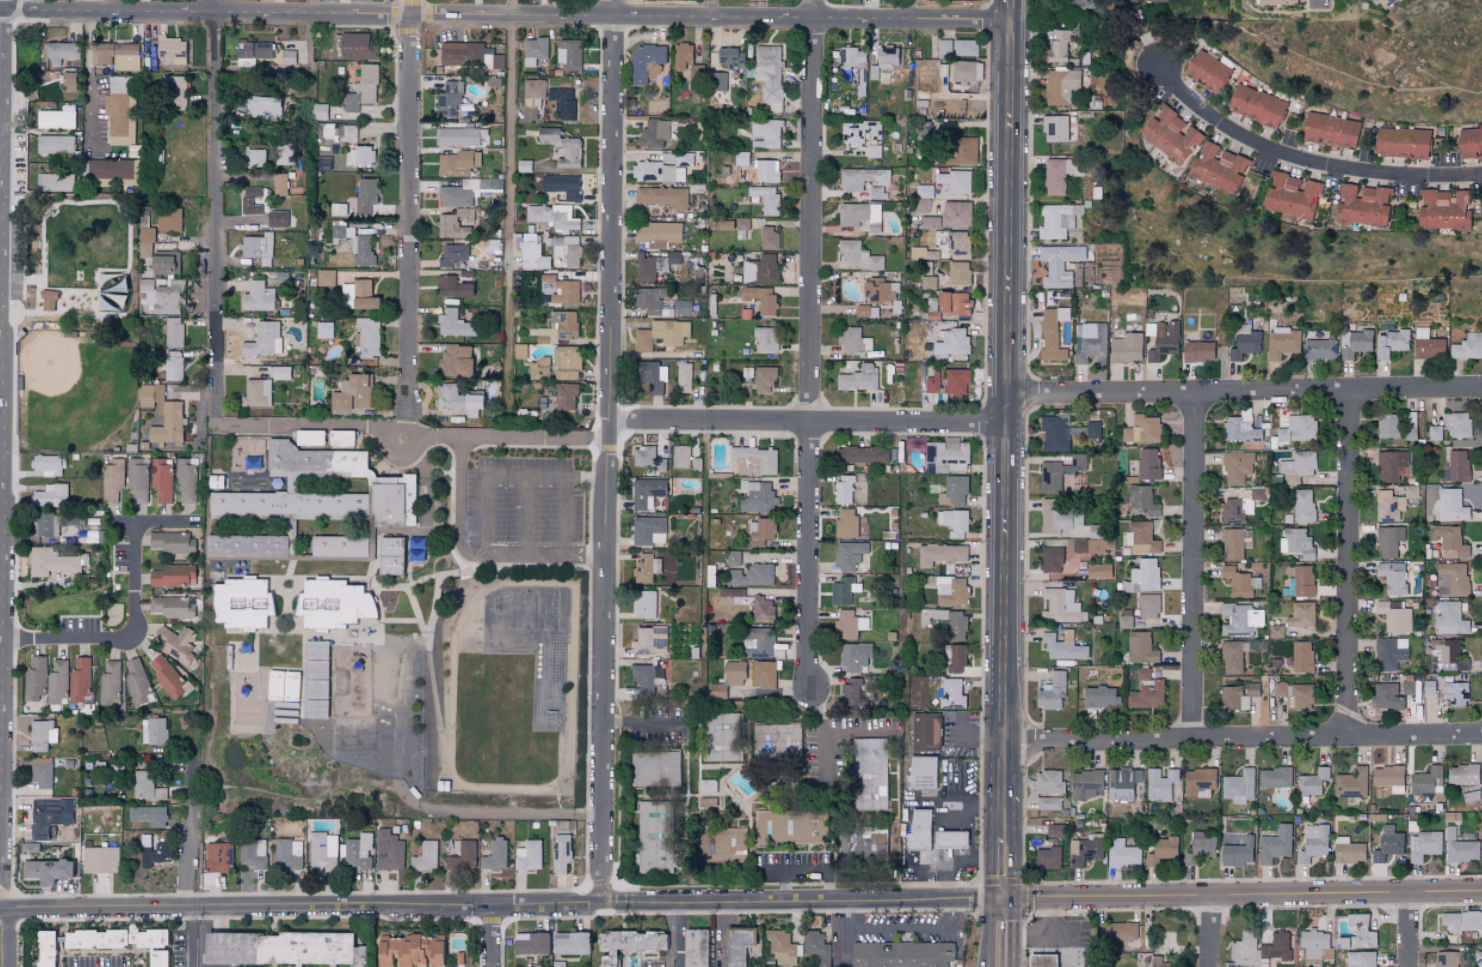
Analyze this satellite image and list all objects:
building: (1154, 0)
building: (1274, 1)
road: (1319, 2)
building: (1377, 2)
building: (1316, 4)
road: (13, 7)
road: (111, 7)
road: (312, 7)
road: (714, 7)
road: (910, 8)
road: (506, 14)
building: (944, 46)
building: (356, 47)
building: (965, 47)
building: (1059, 47)
building: (252, 50)
building: (534, 50)
building: (168, 51)
building: (61, 52)
building: (461, 53)
building: (116, 55)
building: (569, 55)
building: (683, 55)
building: (887, 55)
building: (288, 57)
building: (730, 58)
building: (851, 58)
building: (497, 61)
building: (645, 63)
building: (768, 71)
building: (1207, 71)
building: (967, 73)
building: (876, 74)
building: (718, 81)
road: (90, 84)
building: (118, 85)
building: (1061, 86)
building: (363, 87)
building: (534, 88)
building: (449, 97)
building: (563, 103)
building: (954, 103)
building: (1256, 105)
building: (263, 107)
building: (771, 107)
building: (530, 108)
building: (319, 111)
building: (58, 118)
building: (119, 120)
building: (1055, 128)
building: (1329, 130)
building: (350, 131)
building: (767, 132)
building: (859, 132)
building: (652, 133)
building: (1170, 134)
building: (459, 136)
building: (1401, 142)
building: (1469, 142)
building: (55, 144)
building: (561, 147)
building: (874, 150)
building: (964, 151)
building: (360, 155)
road: (1310, 155)
building: (254, 157)
building: (741, 158)
building: (684, 159)
road: (1027, 162)
building: (323, 163)
building: (458, 163)
building: (525, 166)
building: (1218, 167)
building: (766, 170)
building: (111, 172)
building: (658, 172)
building: (1061, 175)
building: (862, 178)
building: (954, 181)
building: (55, 182)
building: (279, 184)
building: (490, 184)
building: (562, 185)
building: (876, 192)
building: (366, 194)
building: (1291, 195)
building: (455, 196)
building: (663, 197)
building: (922, 197)
building: (766, 198)
building: (250, 200)
road: (508, 203)
road: (1030, 204)
building: (1362, 204)
building: (338, 209)
building: (1442, 209)
road: (214, 212)
building: (859, 215)
building: (956, 215)
building: (143, 216)
building: (553, 216)
building: (276, 218)
road: (411, 218)
building: (168, 220)
building: (1058, 220)
building: (929, 222)
building: (454, 223)
building: (741, 223)
building: (658, 232)
building: (768, 237)
building: (960, 243)
building: (356, 244)
building: (257, 245)
building: (567, 250)
building: (530, 252)
building: (922, 253)
building: (157, 254)
building: (452, 254)
building: (859, 255)
building: (1059, 264)
building: (649, 267)
building: (761, 270)
building: (959, 273)
building: (322, 277)
building: (927, 282)
building: (451, 287)
building: (879, 291)
building: (566, 292)
building: (358, 295)
building: (160, 297)
building: (257, 297)
building: (759, 298)
building: (650, 299)
building: (48, 300)
building: (952, 303)
building: (116, 304)
building: (682, 308)
building: (861, 311)
park: (77, 322)
building: (454, 324)
building: (558, 327)
building: (324, 330)
building: (173, 332)
building: (1052, 333)
building: (661, 334)
building: (369, 337)
building: (263, 339)
building: (765, 339)
building: (1162, 339)
building: (854, 340)
building: (1088, 341)
building: (951, 342)
building: (1244, 342)
building: (1283, 342)
building: (1355, 343)
building: (1390, 343)
road: (812, 344)
building: (1427, 345)
building: (1467, 347)
building: (1125, 348)
building: (1320, 349)
building: (520, 351)
building: (1197, 351)
building: (455, 361)
road: (1009, 361)
building: (566, 362)
building: (542, 364)
building: (172, 365)
building: (280, 372)
building: (650, 376)
building: (683, 377)
building: (762, 378)
building: (858, 378)
building: (956, 381)
building: (932, 383)
park: (76, 386)
road: (1245, 390)
building: (256, 393)
building: (352, 393)
building: (150, 394)
building: (565, 396)
building: (456, 399)
road: (810, 423)
building: (1458, 424)
building: (168, 425)
building: (1397, 426)
building: (1241, 428)
building: (1298, 428)
building: (1141, 429)
building: (1092, 430)
building: (1435, 432)
building: (1054, 434)
road: (412, 436)
building: (309, 437)
building: (340, 437)
building: (915, 445)
road: (612, 450)
building: (947, 453)
building: (861, 455)
building: (681, 456)
building: (648, 458)
building: (753, 461)
building: (697, 464)
building: (1148, 464)
building: (48, 465)
building: (1391, 465)
building: (1297, 466)
building: (1458, 466)
building: (1237, 467)
building: (1059, 472)
road: (547, 477)
building: (112, 480)
building: (137, 480)
building: (162, 480)
building: (186, 480)
building: (216, 481)
building: (324, 488)
building: (844, 489)
road: (9, 490)
building: (955, 490)
building: (1406, 491)
building: (647, 493)
building: (1257, 494)
building: (50, 496)
building: (758, 498)
building: (1143, 501)
road: (461, 502)
parking lot: (526, 502)
building: (1451, 505)
building: (1388, 506)
building: (1302, 507)
building: (1232, 510)
road: (484, 514)
road: (527, 514)
road: (565, 515)
building: (1059, 515)
building: (75, 520)
building: (953, 522)
road: (151, 523)
building: (45, 524)
building: (846, 524)
building: (646, 529)
building: (760, 532)
building: (1142, 536)
building: (1389, 541)
building: (1450, 541)
building: (172, 542)
building: (1296, 542)
building: (1232, 544)
building: (245, 545)
building: (1091, 545)
building: (338, 546)
road: (548, 552)
building: (940, 554)
building: (848, 555)
building: (389, 556)
building: (733, 558)
building: (1050, 559)
building: (50, 562)
road: (1350, 563)
road: (1196, 566)
building: (645, 568)
building: (1098, 571)
building: (1145, 574)
building: (173, 575)
building: (751, 575)
building: (1393, 577)
building: (1452, 579)
building: (709, 580)
building: (1303, 581)
building: (1239, 582)
building: (1288, 588)
building: (843, 590)
building: (950, 591)
building: (732, 594)
building: (241, 603)
building: (331, 603)
building: (644, 605)
building: (171, 606)
building: (1061, 606)
building: (1148, 606)
building: (762, 608)
building: (1301, 615)
building: (1393, 616)
building: (1240, 619)
building: (1450, 619)
building: (953, 623)
building: (848, 625)
building: (1276, 631)
road: (126, 636)
building: (650, 641)
building: (174, 642)
building: (757, 642)
building: (1063, 647)
building: (1140, 648)
building: (1255, 651)
building: (1391, 652)
building: (1447, 653)
building: (1301, 656)
building: (855, 657)
building: (954, 657)
building: (1231, 658)
building: (314, 660)
building: (734, 673)
building: (167, 675)
building: (763, 675)
building: (643, 678)
building: (35, 679)
building: (81, 680)
building: (137, 681)
building: (58, 683)
building: (1407, 684)
building: (111, 686)
building: (282, 686)
building: (1429, 687)
building: (315, 689)
building: (1278, 689)
building: (717, 691)
building: (1051, 691)
building: (1146, 691)
building: (1454, 693)
building: (853, 694)
building: (951, 694)
building: (1100, 696)
building: (1301, 696)
building: (1237, 697)
building: (1387, 697)
road: (648, 726)
building: (154, 731)
building: (926, 731)
building: (41, 735)
road: (861, 735)
road: (825, 736)
road: (1243, 740)
road: (967, 743)
road: (1005, 759)
building: (921, 772)
building: (42, 774)
building: (868, 774)
building: (1463, 775)
building: (1275, 778)
building: (1389, 778)
building: (1198, 781)
building: (1427, 781)
building: (1049, 782)
building: (1311, 782)
building: (1351, 783)
building: (144, 784)
building: (1085, 784)
building: (1160, 784)
building: (1124, 785)
building: (1238, 786)
building: (161, 794)
building: (706, 802)
road: (944, 802)
building: (1048, 803)
building: (149, 815)
road: (972, 815)
building: (49, 816)
road: (1004, 817)
building: (773, 829)
building: (917, 830)
building: (1055, 830)
road: (189, 836)
road: (935, 836)
building: (950, 839)
building: (651, 840)
building: (861, 842)
building: (1313, 843)
building: (1387, 844)
building: (720, 845)
building: (1274, 845)
building: (1424, 845)
building: (28, 847)
building: (1199, 848)
building: (1460, 848)
road: (1004, 850)
building: (323, 851)
building: (358, 851)
building: (389, 851)
building: (1085, 851)
building: (1162, 851)
building: (1347, 851)
building: (154, 852)
building: (253, 853)
building: (562, 853)
building: (1123, 853)
building: (1238, 853)
building: (288, 854)
building: (460, 855)
building: (494, 855)
building: (528, 856)
building: (218, 857)
building: (425, 857)
road: (923, 858)
building: (1046, 858)
building: (100, 860)
road: (988, 861)
road: (946, 868)
road: (806, 870)
building: (46, 871)
road: (770, 871)
road: (1004, 881)
road: (1268, 896)
road: (1030, 900)
road: (977, 901)
road: (948, 902)
road: (472, 903)
road: (1055, 915)
road: (1003, 917)
building: (1461, 921)
road: (900, 930)
road: (1406, 930)
building: (1116, 931)
road: (1028, 932)
road: (1210, 932)
road: (671, 934)
road: (681, 934)
road: (725, 934)
building: (1357, 934)
road: (497, 935)
road: (186, 937)
road: (206, 937)
building: (93, 939)
road: (1076, 939)
building: (571, 943)
building: (530, 944)
building: (628, 944)
building: (737, 945)
building: (1314, 945)
building: (1277, 947)
building: (694, 948)
building: (781, 948)
building: (817, 948)
road: (848, 948)
building: (43, 949)
building: (280, 949)
building: (1245, 949)
road: (1002, 950)
building: (407, 951)
building: (901, 954)
building: (156, 959)
building: (1360, 959)
building: (1445, 959)
building: (1478, 959)
building: (1040, 960)
building: (1113, 960)
building: (1160, 962)
building: (719, 964)

